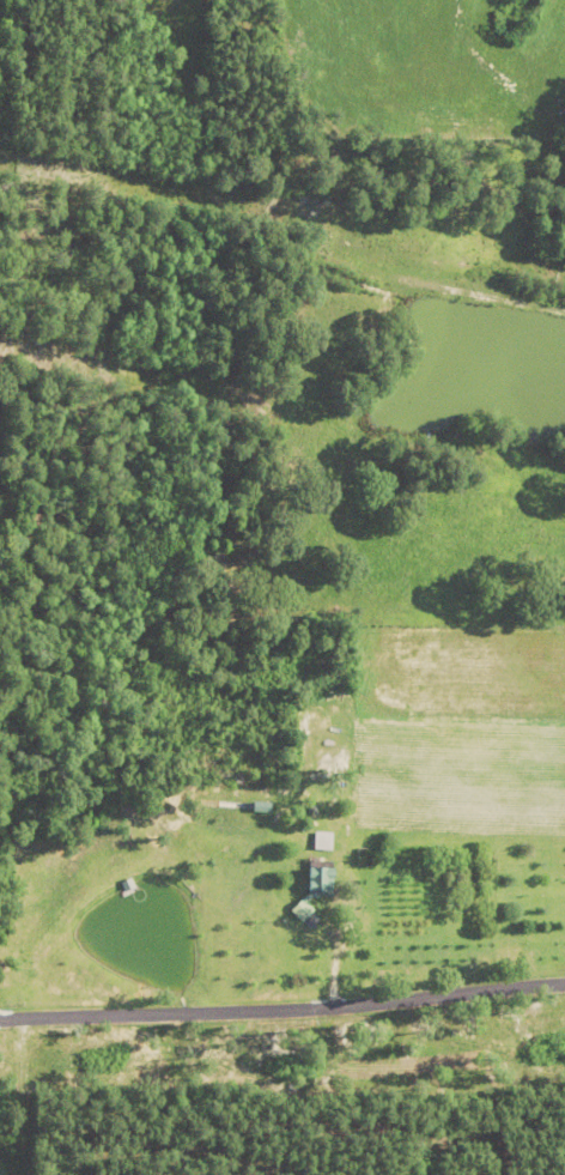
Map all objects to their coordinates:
building: (320, 841)
building: (309, 890)
road: (281, 1011)

